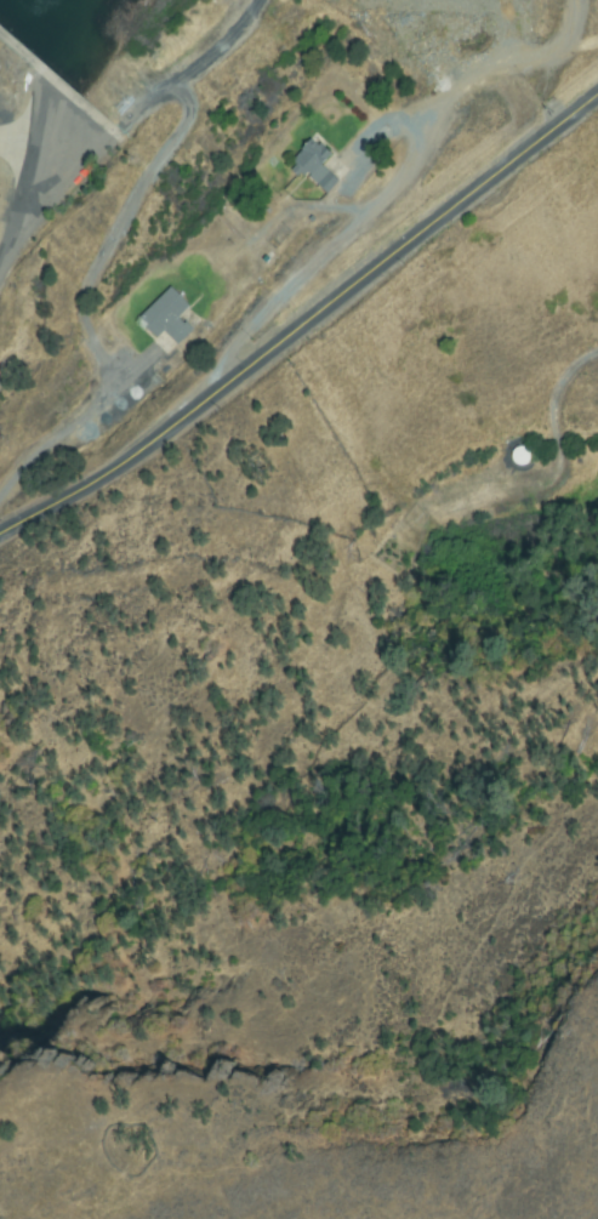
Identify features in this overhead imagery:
road: (218, 59)
dam: (52, 90)
road: (21, 139)
road: (39, 150)
building: (314, 165)
road: (395, 189)
road: (104, 249)
building: (166, 317)
road: (304, 331)
building: (172, 363)
storage tank: (522, 456)

